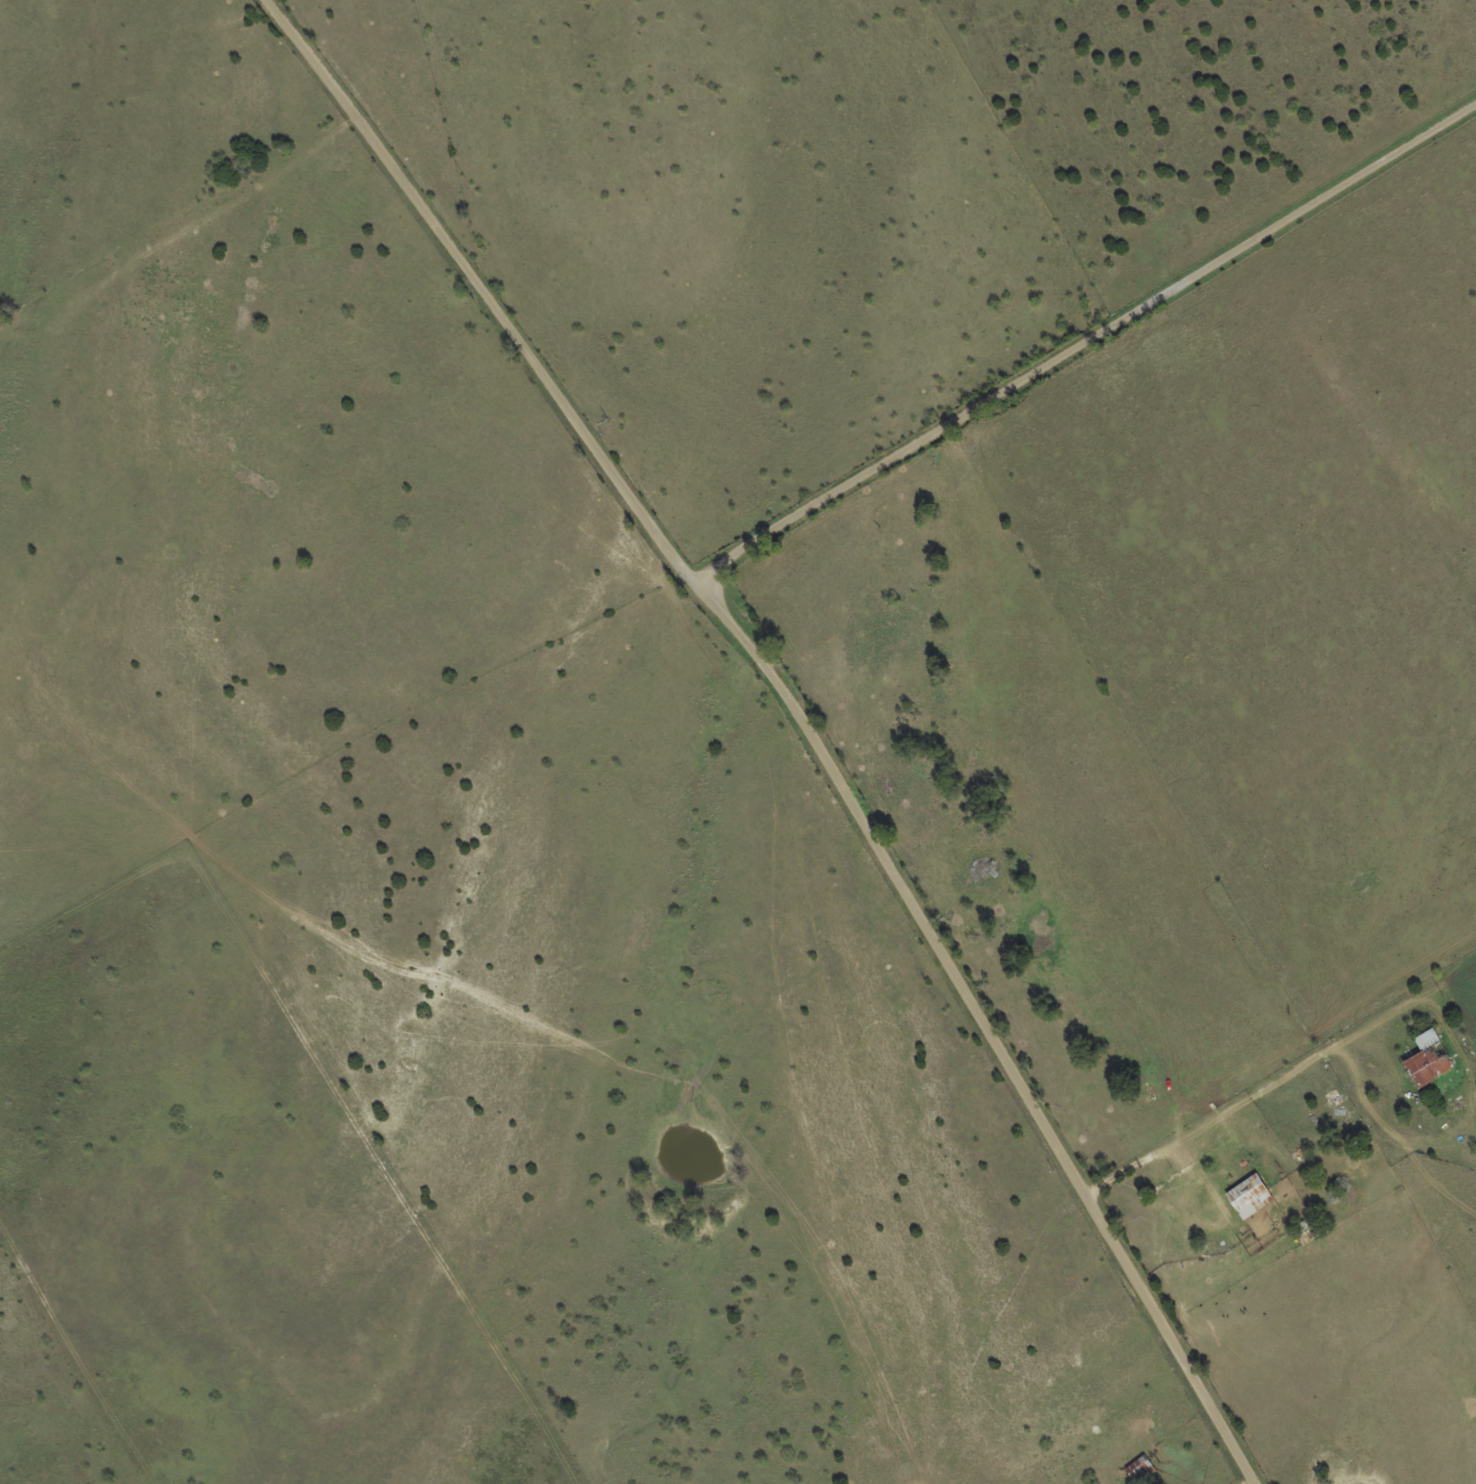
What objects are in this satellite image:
road: (1087, 340)
road: (797, 715)
building: (1423, 1061)
building: (1245, 1196)
building: (1137, 1468)

